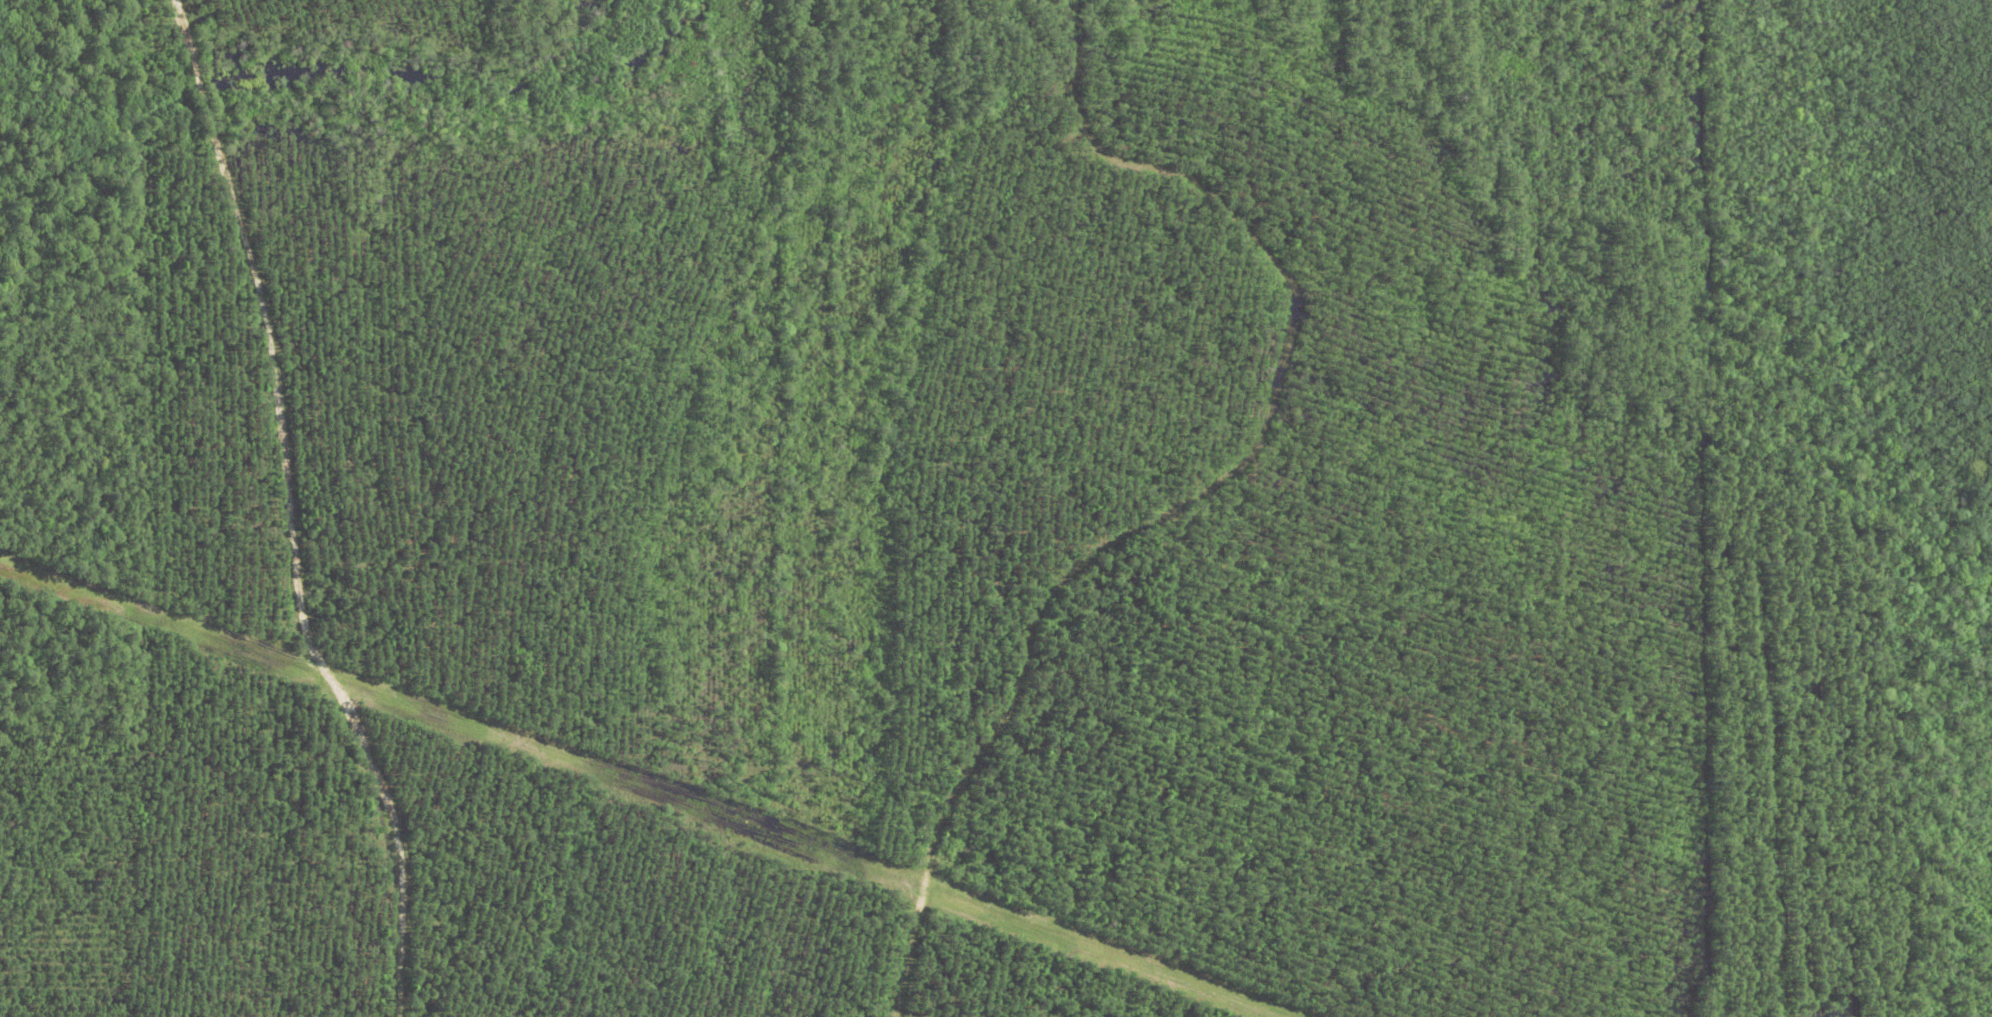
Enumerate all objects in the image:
road: (916, 914)

